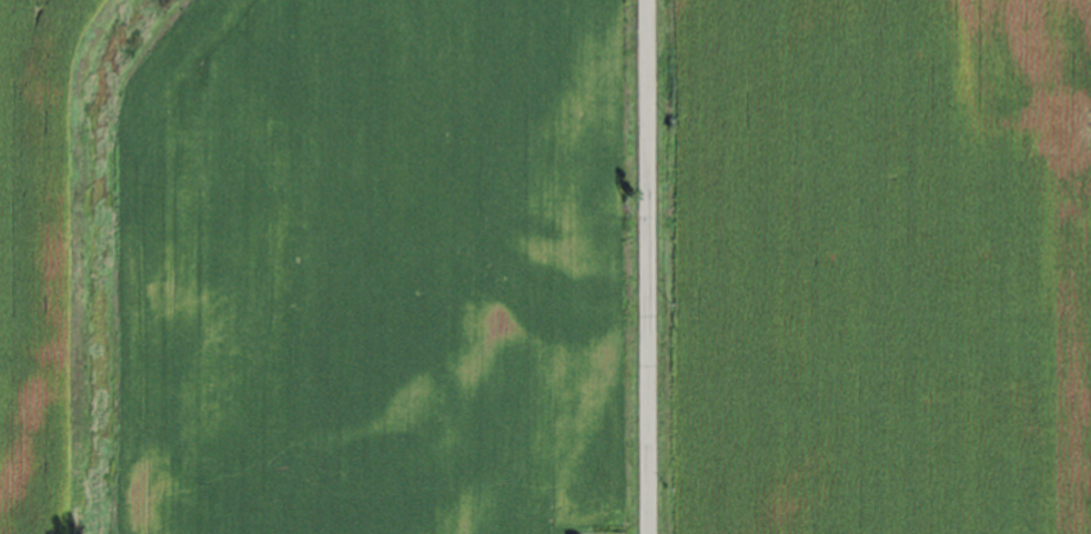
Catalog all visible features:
road: (649, 266)

